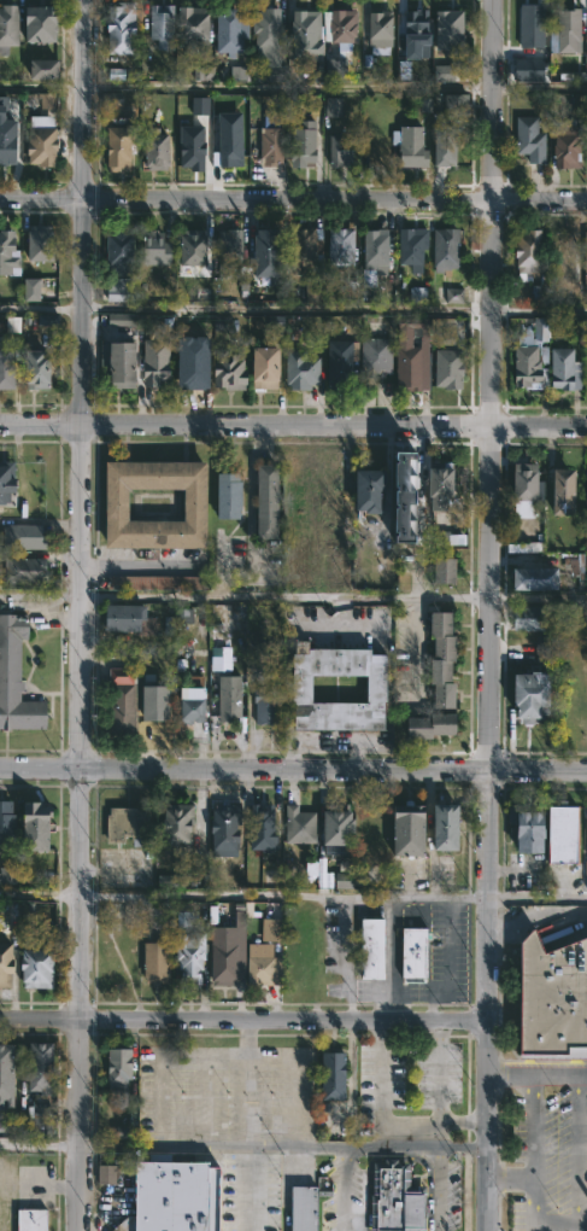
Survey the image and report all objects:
building: (47, 23)
building: (118, 24)
building: (194, 24)
building: (164, 25)
building: (527, 25)
building: (10, 27)
building: (270, 27)
building: (335, 27)
building: (412, 27)
building: (231, 28)
building: (444, 28)
building: (376, 30)
building: (562, 30)
building: (305, 33)
building: (335, 68)
building: (524, 68)
building: (49, 69)
building: (404, 70)
building: (202, 72)
building: (237, 72)
building: (317, 72)
building: (444, 72)
road: (293, 89)
building: (112, 99)
building: (47, 100)
building: (199, 105)
building: (451, 105)
building: (333, 106)
building: (527, 139)
building: (269, 140)
building: (10, 144)
building: (300, 144)
building: (563, 145)
building: (45, 146)
building: (228, 146)
building: (406, 147)
building: (153, 148)
building: (189, 148)
building: (447, 148)
building: (122, 150)
building: (337, 152)
road: (293, 199)
building: (227, 239)
building: (43, 243)
building: (407, 245)
building: (190, 246)
building: (152, 247)
building: (336, 247)
building: (303, 249)
building: (370, 250)
building: (441, 250)
building: (523, 253)
building: (10, 255)
building: (263, 255)
building: (117, 264)
building: (583, 266)
building: (312, 287)
building: (30, 290)
building: (417, 294)
building: (453, 296)
road: (41, 308)
road: (539, 311)
building: (48, 320)
building: (124, 322)
building: (540, 329)
building: (446, 339)
building: (372, 356)
building: (299, 358)
building: (406, 361)
building: (158, 362)
building: (10, 364)
building: (123, 364)
building: (526, 364)
building: (335, 366)
building: (558, 367)
building: (228, 368)
building: (264, 368)
building: (448, 368)
building: (43, 371)
building: (586, 371)
road: (81, 384)
road: (492, 384)
road: (293, 425)
building: (8, 480)
building: (520, 484)
building: (438, 488)
building: (366, 492)
building: (554, 492)
building: (223, 495)
building: (295, 495)
building: (404, 496)
building: (583, 496)
building: (262, 501)
building: (110, 504)
building: (25, 537)
building: (585, 537)
building: (452, 539)
building: (524, 548)
building: (573, 567)
building: (28, 568)
building: (438, 571)
building: (528, 579)
building: (158, 583)
road: (40, 597)
road: (334, 597)
building: (182, 615)
building: (524, 619)
building: (125, 620)
building: (545, 649)
building: (219, 658)
building: (439, 661)
building: (16, 682)
building: (371, 688)
building: (528, 695)
building: (229, 698)
building: (151, 702)
building: (186, 705)
building: (123, 707)
building: (264, 707)
building: (427, 727)
road: (293, 769)
building: (8, 823)
building: (176, 823)
building: (130, 824)
building: (37, 825)
building: (295, 825)
building: (583, 827)
building: (227, 829)
building: (258, 829)
building: (440, 829)
building: (328, 830)
building: (405, 832)
building: (521, 834)
building: (553, 835)
building: (10, 874)
building: (169, 880)
building: (342, 880)
road: (40, 893)
road: (211, 894)
road: (352, 898)
road: (538, 900)
building: (372, 949)
building: (411, 951)
building: (224, 955)
building: (188, 956)
building: (154, 961)
building: (7, 963)
building: (40, 967)
building: (260, 972)
building: (551, 997)
road: (81, 999)
road: (488, 999)
road: (40, 1025)
road: (284, 1027)
building: (115, 1064)
building: (42, 1067)
building: (10, 1072)
road: (538, 1072)
building: (328, 1074)
road: (439, 1086)
road: (155, 1087)
road: (381, 1087)
road: (248, 1128)
building: (124, 1132)
road: (40, 1145)
road: (392, 1145)
road: (463, 1145)
road: (575, 1148)
parking lot: (547, 1160)
building: (106, 1174)
road: (509, 1174)
road: (530, 1175)
road: (438, 1188)
road: (344, 1189)
building: (176, 1197)
building: (389, 1197)
building: (303, 1204)
building: (35, 1219)

